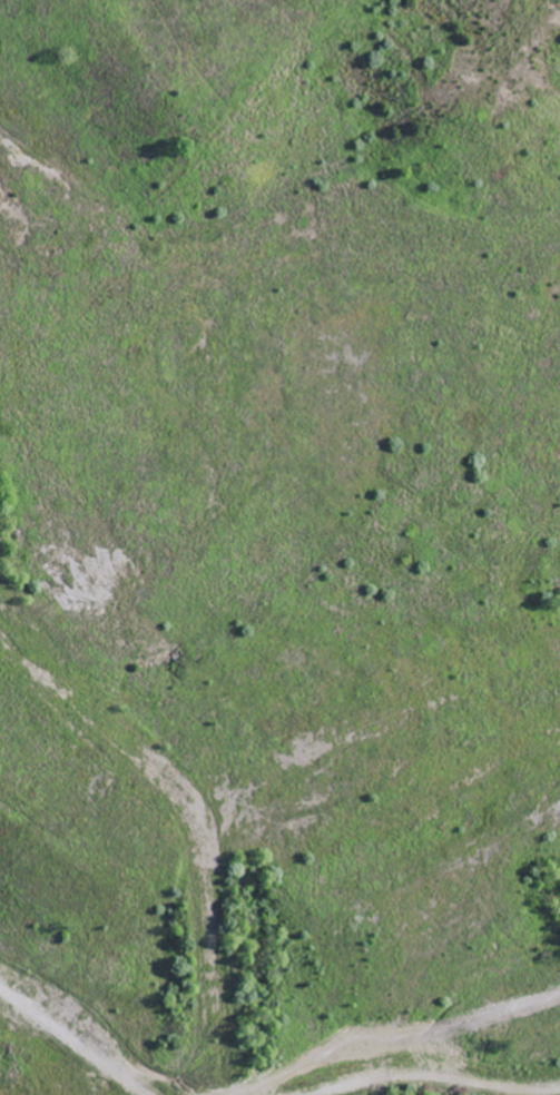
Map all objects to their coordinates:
road: (186, 870)

